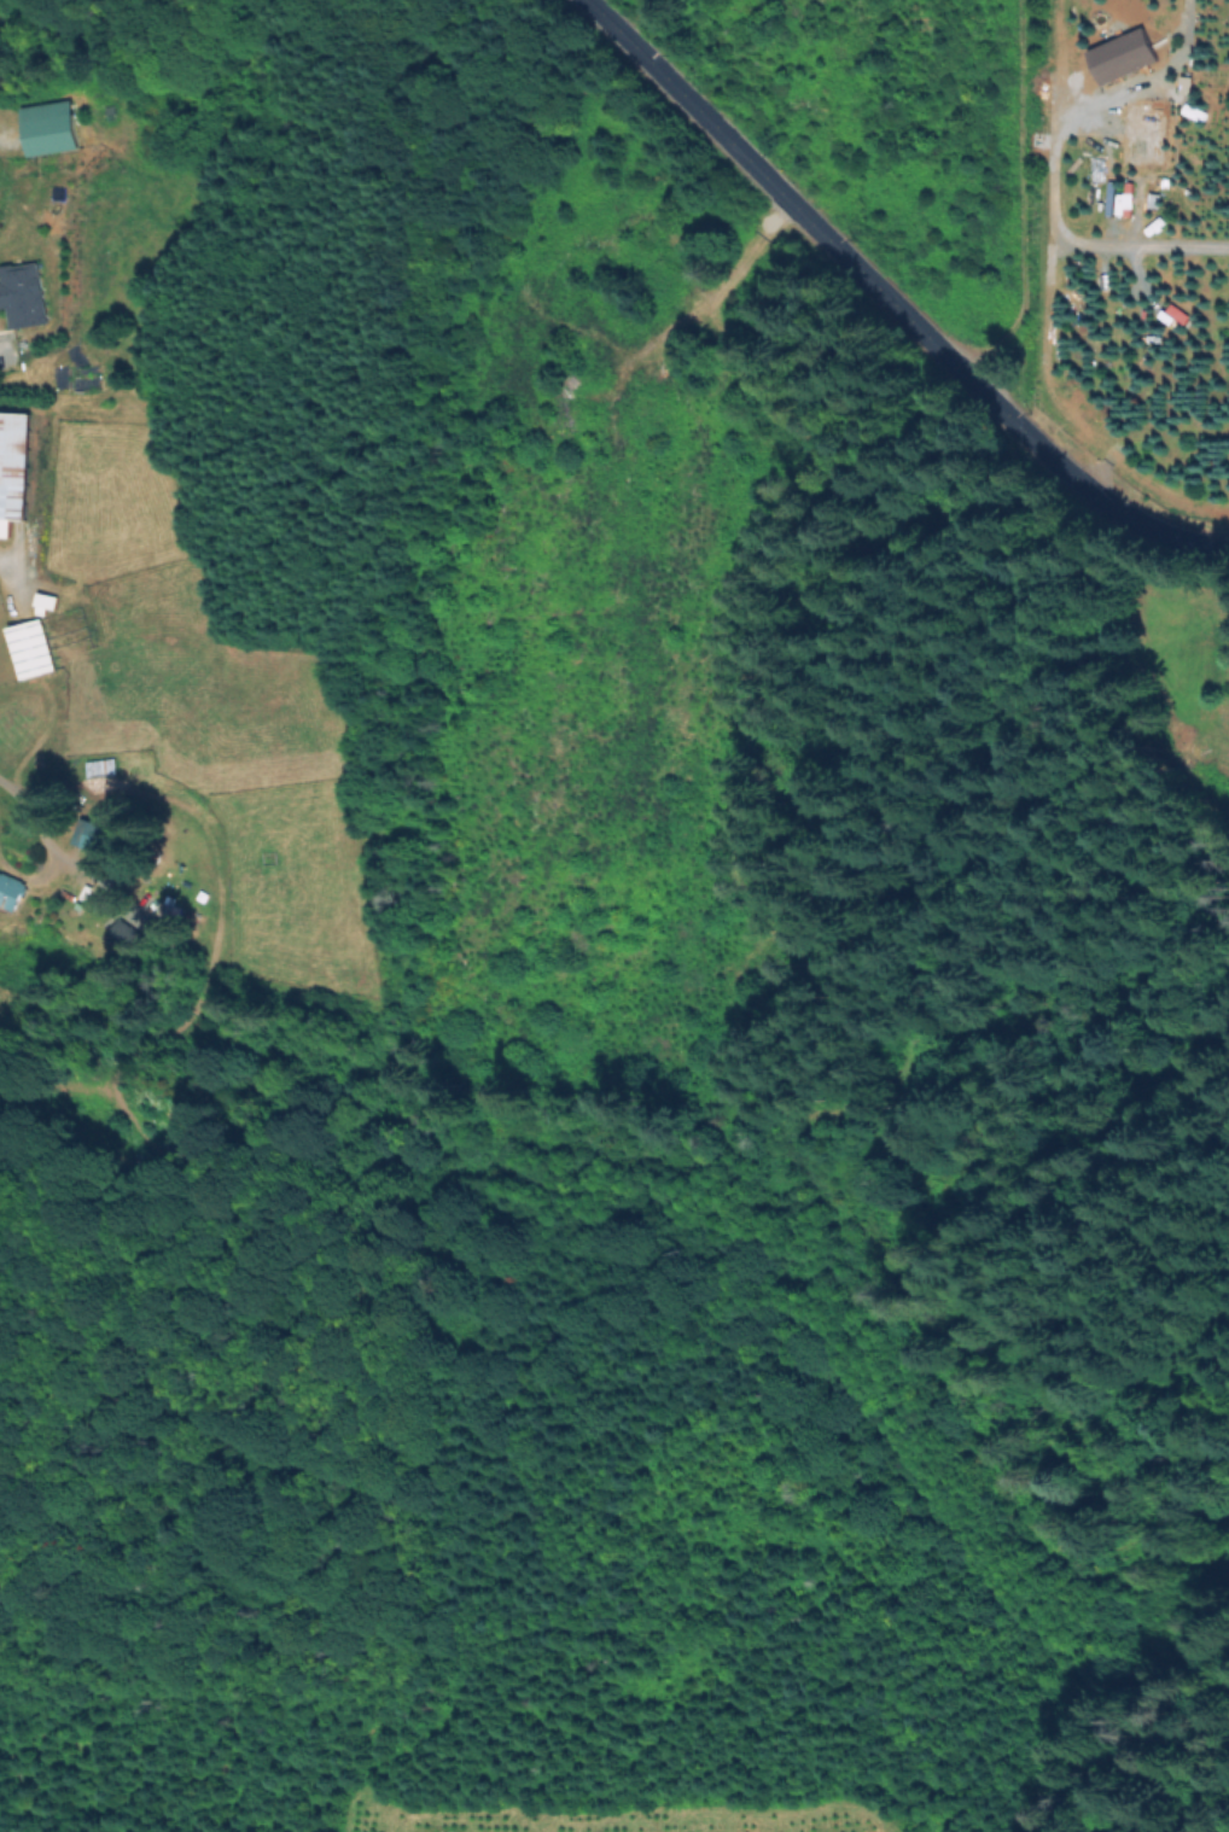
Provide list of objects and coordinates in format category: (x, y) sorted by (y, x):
building: (69, 110)
building: (42, 130)
road: (1045, 156)
building: (30, 279)
road: (887, 302)
building: (14, 454)
road: (1, 565)
building: (40, 602)
building: (25, 643)
building: (104, 758)
building: (93, 825)
building: (16, 876)
building: (133, 923)

